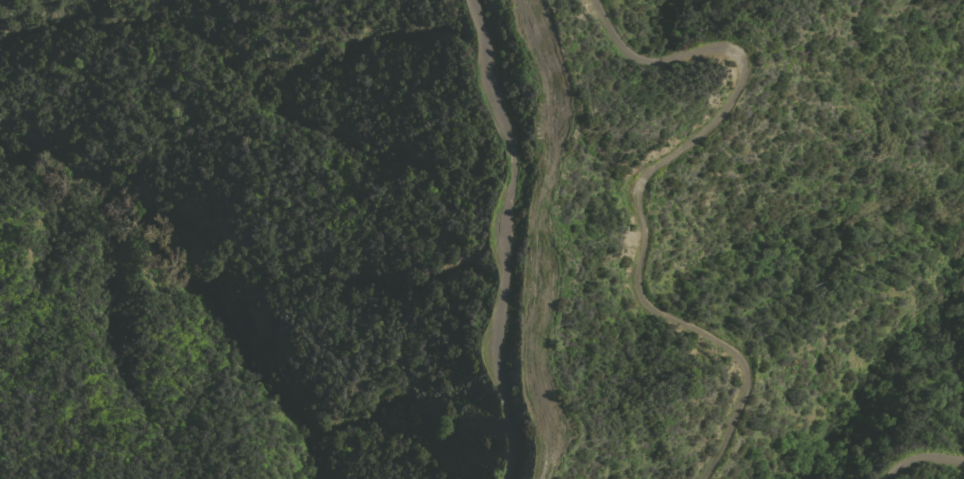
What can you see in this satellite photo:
road: (637, 192)
road: (533, 236)
road: (503, 237)
road: (918, 455)

